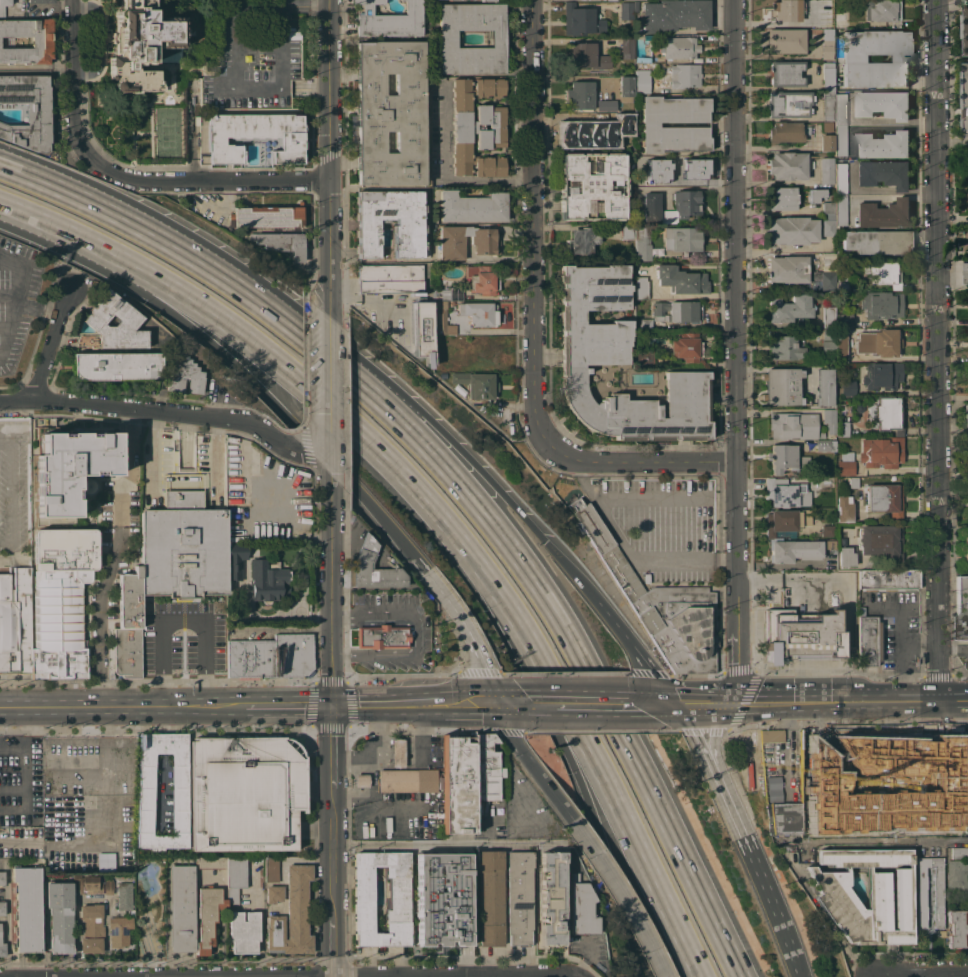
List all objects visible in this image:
building: (401, 0)
building: (487, 0)
building: (616, 0)
building: (40, 1)
building: (5, 2)
road: (280, 4)
building: (635, 6)
road: (303, 7)
building: (626, 10)
building: (783, 10)
building: (883, 11)
building: (674, 15)
building: (826, 19)
building: (840, 19)
building: (388, 20)
building: (581, 20)
building: (964, 28)
building: (649, 37)
road: (97, 38)
building: (447, 38)
building: (41, 41)
building: (785, 41)
building: (139, 44)
building: (827, 44)
building: (678, 47)
building: (626, 48)
parking lot: (258, 56)
building: (587, 56)
building: (641, 59)
building: (853, 59)
road: (36, 65)
road: (36, 72)
building: (785, 73)
building: (684, 75)
building: (828, 75)
building: (642, 81)
building: (625, 85)
road: (235, 88)
road: (307, 89)
road: (73, 90)
building: (579, 95)
building: (965, 102)
building: (788, 104)
building: (883, 104)
building: (605, 105)
building: (828, 105)
building: (840, 109)
building: (27, 110)
building: (389, 112)
building: (4, 114)
building: (622, 118)
road: (780, 119)
building: (649, 124)
building: (490, 126)
building: (826, 126)
building: (461, 127)
building: (473, 127)
road: (881, 127)
building: (583, 131)
building: (786, 132)
road: (193, 133)
building: (254, 136)
building: (627, 137)
building: (840, 139)
building: (827, 143)
building: (882, 145)
road: (781, 147)
road: (325, 158)
building: (788, 166)
building: (639, 167)
building: (679, 167)
road: (19, 168)
building: (826, 170)
road: (19, 171)
building: (657, 171)
building: (883, 173)
road: (443, 174)
building: (840, 179)
building: (641, 180)
road: (213, 181)
building: (592, 186)
road: (690, 187)
building: (815, 195)
road: (882, 195)
building: (782, 198)
road: (225, 201)
building: (682, 206)
building: (471, 207)
building: (650, 207)
building: (829, 208)
building: (840, 210)
building: (883, 214)
building: (265, 217)
road: (35, 219)
building: (408, 223)
building: (828, 224)
road: (139, 229)
building: (466, 230)
building: (791, 230)
building: (627, 231)
building: (682, 239)
building: (484, 241)
building: (581, 241)
building: (876, 242)
building: (280, 243)
building: (450, 243)
building: (642, 243)
road: (3, 261)
building: (786, 269)
building: (883, 273)
building: (966, 273)
building: (481, 278)
building: (390, 279)
building: (681, 280)
building: (822, 281)
building: (842, 286)
building: (640, 288)
building: (447, 294)
road: (9, 295)
road: (16, 300)
building: (881, 305)
road: (38, 308)
building: (789, 308)
building: (676, 311)
building: (479, 313)
building: (828, 317)
building: (127, 318)
building: (440, 319)
road: (532, 320)
building: (844, 320)
building: (644, 324)
road: (4, 327)
building: (422, 330)
building: (828, 334)
building: (878, 342)
road: (49, 345)
building: (685, 347)
building: (828, 347)
building: (841, 347)
building: (784, 348)
road: (937, 350)
road: (736, 351)
building: (593, 355)
building: (643, 359)
building: (115, 366)
building: (183, 375)
building: (881, 375)
road: (255, 382)
building: (475, 384)
road: (305, 385)
building: (782, 386)
building: (824, 387)
building: (847, 388)
road: (328, 394)
road: (160, 410)
road: (774, 410)
building: (885, 413)
building: (966, 415)
building: (829, 420)
building: (793, 425)
building: (842, 429)
building: (821, 435)
building: (825, 445)
building: (881, 452)
building: (785, 458)
building: (966, 459)
building: (845, 463)
road: (320, 464)
building: (69, 466)
road: (580, 470)
road: (479, 472)
building: (231, 473)
road: (182, 482)
building: (851, 482)
building: (86, 486)
building: (278, 488)
building: (828, 490)
building: (785, 494)
road: (15, 496)
road: (650, 496)
building: (884, 500)
building: (843, 509)
building: (262, 518)
building: (786, 522)
building: (838, 526)
building: (827, 530)
traffic signals: (544, 542)
building: (881, 542)
building: (830, 545)
building: (966, 547)
building: (183, 548)
building: (795, 550)
road: (629, 551)
road: (114, 554)
building: (846, 556)
building: (363, 557)
building: (233, 561)
road: (724, 563)
road: (778, 565)
road: (953, 572)
building: (888, 580)
building: (268, 582)
road: (329, 590)
road: (440, 592)
road: (540, 592)
building: (60, 600)
building: (658, 603)
building: (962, 607)
building: (15, 623)
building: (129, 626)
road: (417, 633)
road: (903, 634)
building: (801, 635)
building: (382, 636)
road: (921, 638)
building: (868, 641)
road: (954, 648)
parking lot: (964, 650)
building: (271, 656)
road: (160, 663)
road: (484, 665)
road: (159, 685)
road: (208, 685)
road: (954, 700)
road: (839, 702)
road: (587, 703)
road: (661, 703)
road: (708, 703)
traffic signals: (738, 703)
traffic signals: (497, 704)
road: (514, 704)
traffic signals: (679, 704)
road: (462, 705)
traffic signals: (331, 707)
road: (379, 707)
road: (275, 708)
road: (109, 709)
road: (696, 732)
road: (712, 732)
road: (427, 733)
building: (771, 735)
road: (785, 749)
building: (397, 752)
road: (331, 758)
road: (529, 765)
building: (486, 768)
road: (712, 768)
building: (926, 773)
road: (576, 779)
building: (361, 780)
building: (407, 780)
road: (603, 780)
building: (965, 780)
building: (815, 781)
building: (458, 785)
building: (773, 789)
building: (245, 792)
building: (179, 794)
road: (374, 804)
road: (84, 817)
building: (785, 818)
road: (522, 829)
road: (20, 838)
road: (522, 840)
road: (788, 841)
road: (802, 841)
road: (886, 841)
road: (541, 844)
road: (427, 845)
road: (804, 847)
building: (959, 853)
road: (332, 856)
building: (115, 861)
building: (211, 862)
road: (754, 863)
building: (271, 869)
building: (957, 876)
building: (235, 877)
building: (1, 878)
building: (87, 884)
building: (108, 885)
building: (921, 892)
building: (363, 893)
building: (273, 894)
building: (124, 895)
building: (832, 895)
road: (621, 896)
building: (489, 897)
building: (518, 897)
building: (551, 897)
building: (442, 899)
park: (149, 905)
road: (143, 906)
building: (2, 907)
building: (27, 907)
building: (580, 907)
building: (181, 908)
road: (157, 909)
building: (292, 915)
building: (59, 916)
building: (208, 916)
road: (260, 918)
road: (5, 920)
building: (91, 928)
building: (119, 928)
building: (956, 928)
building: (243, 931)
road: (332, 939)
building: (2, 949)
road: (151, 965)
road: (794, 967)
road: (917, 974)
road: (922, 975)
road: (554, 976)

